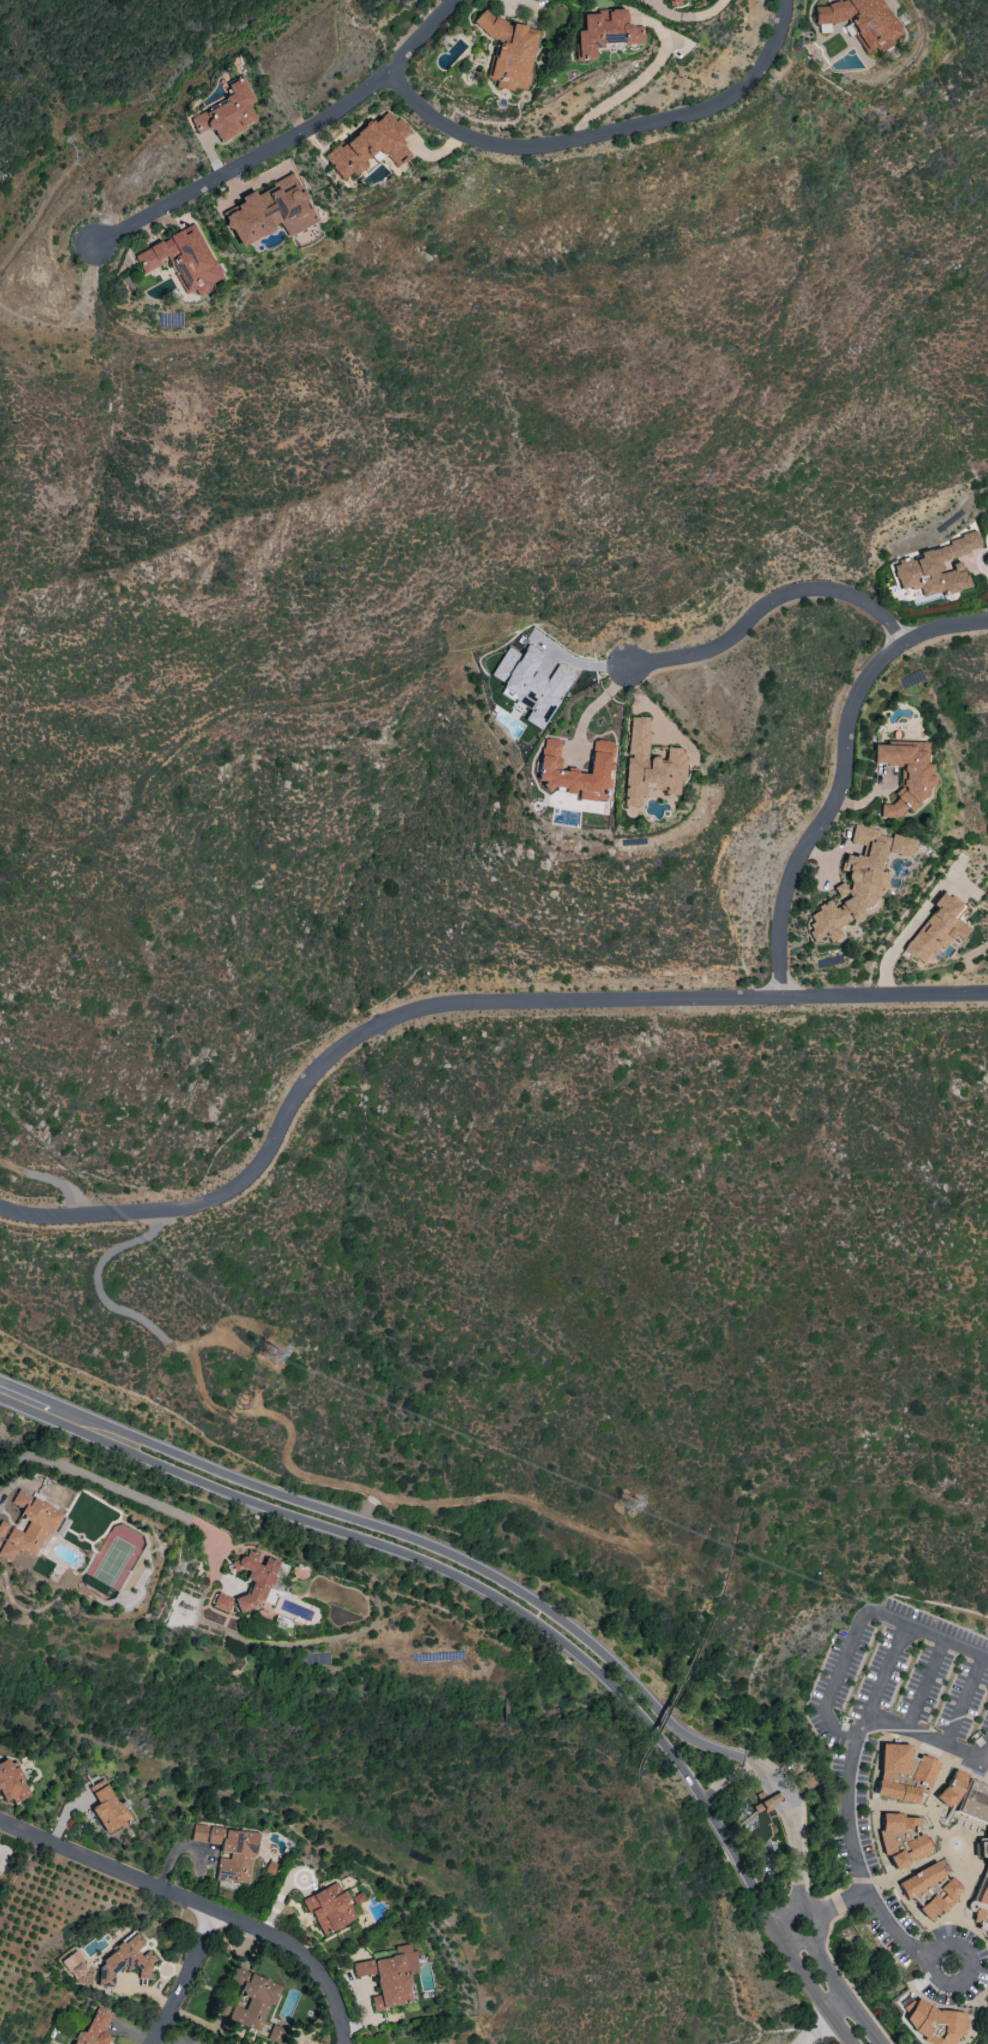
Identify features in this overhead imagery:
building: (673, 2)
road: (685, 16)
building: (861, 21)
building: (604, 32)
building: (509, 51)
road: (635, 83)
building: (227, 112)
road: (607, 132)
road: (288, 140)
building: (370, 145)
building: (270, 211)
building: (183, 259)
building: (936, 568)
road: (769, 605)
road: (579, 662)
building: (530, 683)
road: (595, 705)
road: (654, 711)
building: (649, 765)
building: (554, 771)
road: (844, 773)
building: (905, 775)
building: (858, 881)
road: (909, 928)
building: (938, 930)
road: (450, 1004)
road: (47, 1175)
power tower: (281, 1352)
power tower: (237, 1409)
road: (286, 1443)
road: (15, 1480)
road: (123, 1487)
power tower: (634, 1509)
building: (28, 1526)
road: (471, 1565)
road: (448, 1573)
building: (254, 1579)
power tower: (661, 1582)
building: (221, 1602)
road: (858, 1622)
road: (881, 1667)
road: (922, 1683)
road: (962, 1699)
road: (915, 1733)
road: (978, 1757)
building: (902, 1773)
building: (12, 1783)
building: (765, 1801)
building: (106, 1807)
building: (969, 1814)
building: (904, 1839)
road: (849, 1842)
building: (229, 1851)
building: (921, 1880)
building: (940, 1898)
road: (198, 1903)
road: (790, 1904)
building: (329, 1908)
road: (891, 1928)
building: (124, 1961)
building: (74, 1964)
building: (390, 1976)
road: (186, 1979)
road: (934, 1979)
road: (843, 1994)
road: (818, 1996)
building: (253, 2000)
building: (933, 2022)
road: (814, 2027)
building: (93, 2029)
building: (276, 2034)

